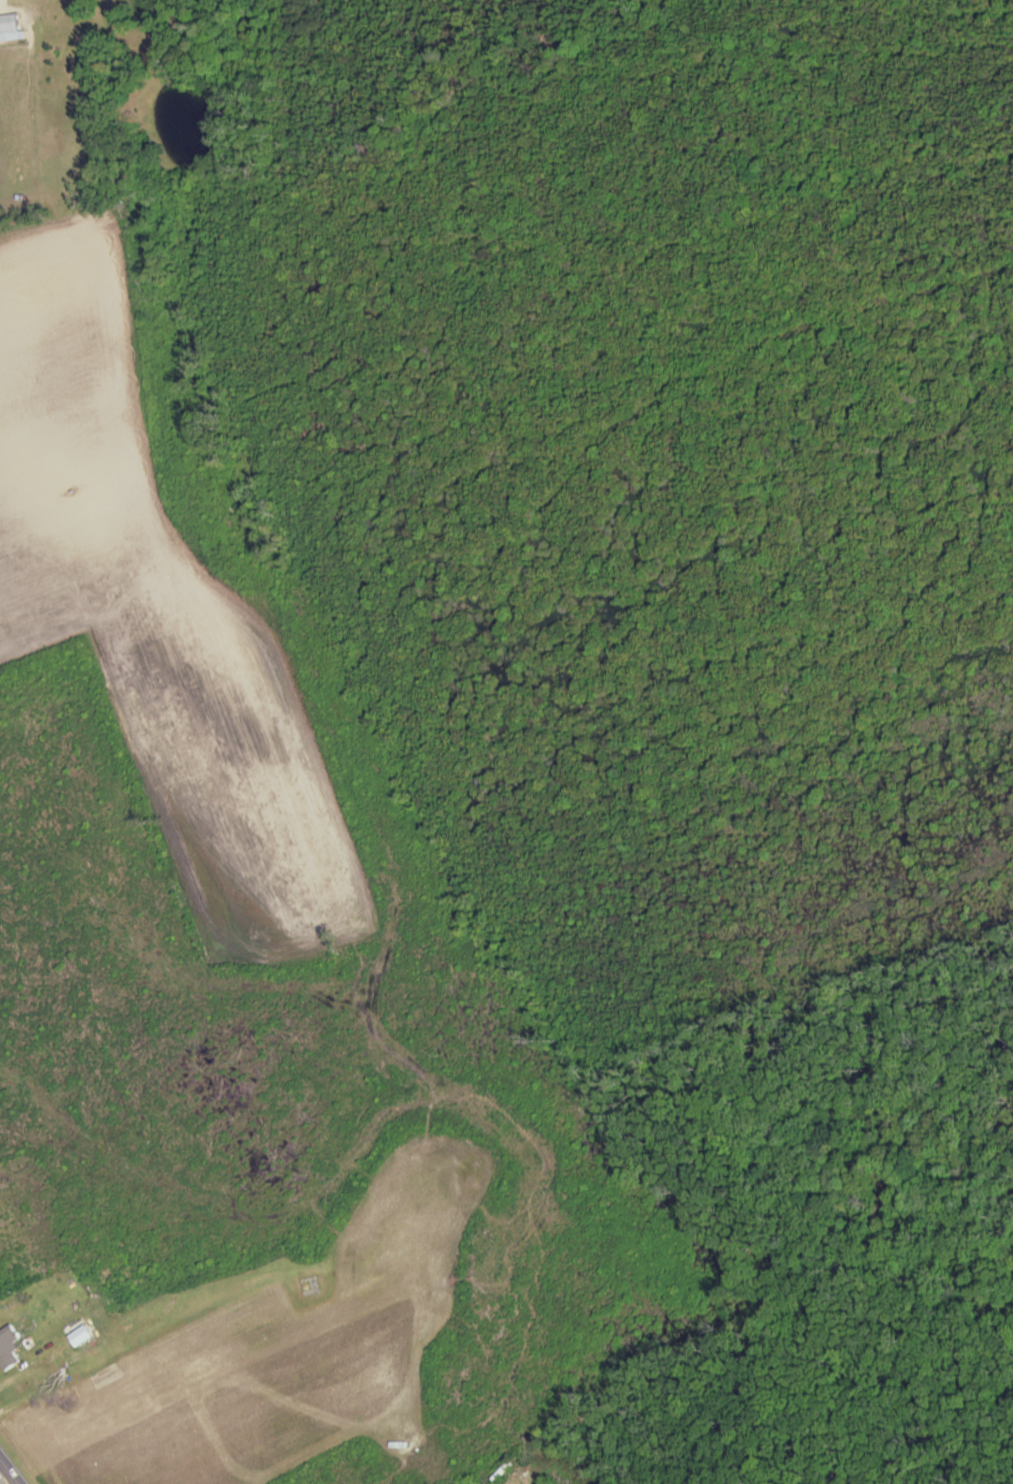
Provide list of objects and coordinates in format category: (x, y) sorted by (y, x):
building: (10, 26)
building: (81, 1333)
building: (10, 1348)

